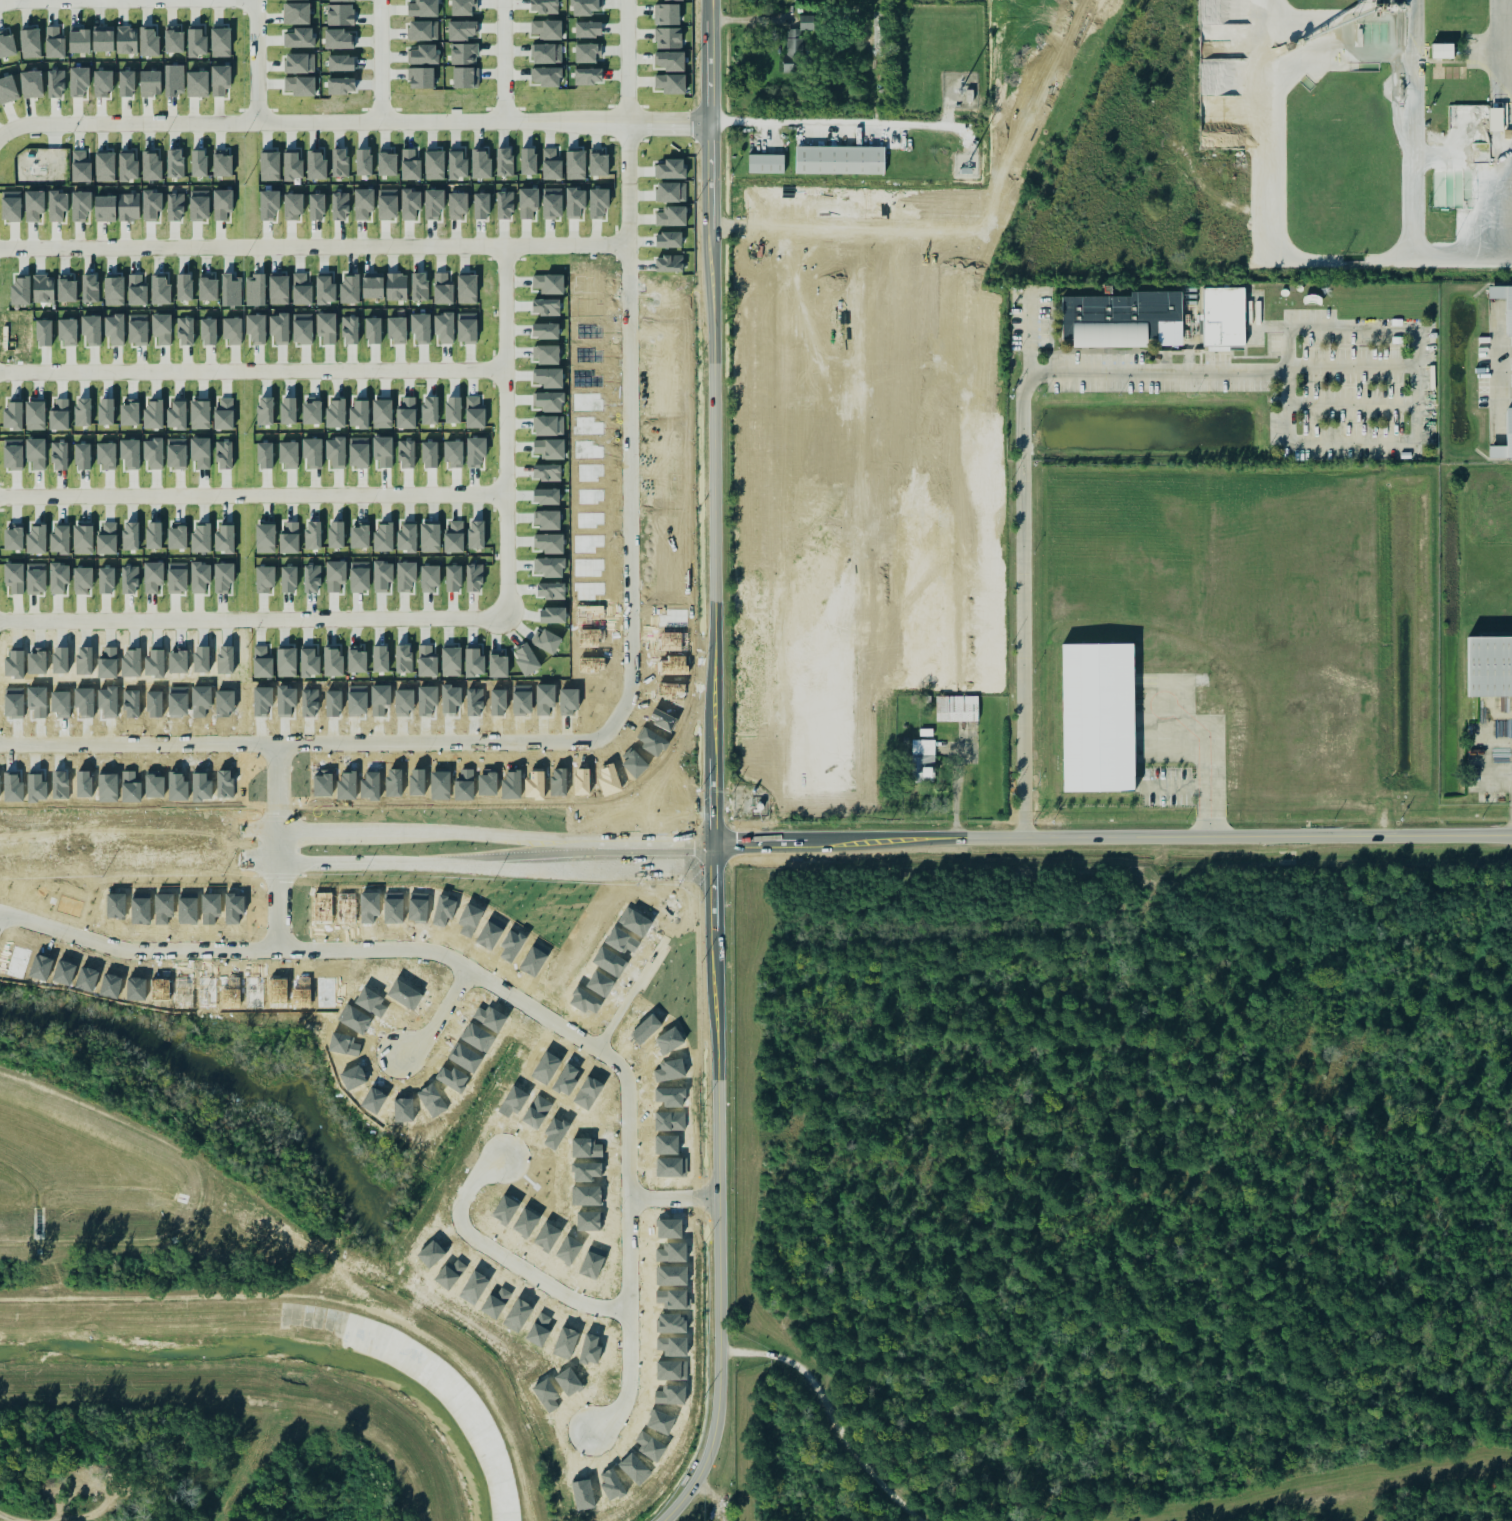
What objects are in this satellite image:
road: (66, 0)
building: (340, 0)
building: (668, 0)
building: (543, 6)
building: (461, 7)
building: (584, 7)
building: (422, 8)
building: (296, 13)
building: (666, 13)
building: (339, 14)
building: (546, 28)
building: (588, 28)
building: (461, 29)
building: (422, 30)
building: (300, 37)
building: (668, 37)
building: (102, 38)
building: (173, 38)
building: (338, 38)
building: (79, 39)
building: (126, 39)
building: (148, 40)
building: (195, 40)
building: (54, 41)
building: (220, 41)
building: (30, 42)
building: (7, 44)
building: (794, 44)
building: (1441, 50)
building: (546, 52)
building: (463, 53)
building: (585, 53)
building: (424, 54)
building: (669, 60)
building: (299, 62)
building: (340, 62)
road: (505, 62)
road: (256, 63)
road: (382, 63)
building: (587, 75)
building: (545, 76)
building: (420, 77)
building: (464, 77)
building: (173, 79)
building: (219, 79)
building: (78, 80)
building: (149, 82)
building: (31, 83)
building: (55, 83)
building: (102, 83)
building: (126, 83)
building: (196, 83)
building: (670, 83)
building: (299, 85)
building: (340, 85)
building: (7, 89)
building: (1495, 119)
road: (848, 122)
road: (484, 125)
road: (127, 126)
road: (1415, 129)
road: (1510, 129)
building: (839, 159)
building: (527, 160)
building: (504, 161)
building: (198, 162)
building: (339, 162)
building: (362, 162)
building: (386, 162)
building: (456, 162)
building: (174, 163)
building: (410, 163)
building: (480, 163)
building: (551, 163)
building: (765, 163)
building: (128, 164)
building: (151, 164)
building: (222, 164)
building: (315, 164)
building: (574, 164)
building: (597, 164)
building: (269, 165)
building: (292, 165)
building: (433, 165)
building: (80, 166)
building: (104, 166)
building: (671, 169)
building: (671, 191)
building: (574, 201)
building: (527, 202)
building: (551, 202)
building: (597, 202)
building: (221, 203)
building: (362, 203)
building: (386, 203)
building: (409, 203)
building: (151, 204)
building: (269, 204)
building: (433, 204)
building: (504, 204)
building: (10, 205)
building: (33, 205)
building: (57, 205)
building: (80, 205)
building: (198, 205)
building: (292, 205)
building: (339, 205)
building: (456, 205)
building: (481, 205)
building: (128, 206)
building: (174, 206)
building: (316, 206)
building: (104, 208)
building: (670, 216)
building: (668, 239)
road: (313, 248)
road: (1388, 258)
building: (668, 263)
building: (547, 283)
building: (372, 285)
building: (183, 286)
building: (207, 286)
building: (395, 286)
building: (419, 286)
building: (672, 286)
building: (66, 287)
building: (89, 287)
building: (442, 287)
building: (43, 288)
building: (136, 288)
building: (159, 288)
building: (301, 288)
building: (20, 289)
building: (113, 289)
building: (278, 289)
building: (324, 289)
building: (349, 289)
building: (466, 289)
building: (231, 290)
building: (254, 290)
building: (545, 306)
building: (1501, 307)
building: (672, 309)
building: (1126, 316)
building: (1227, 316)
building: (278, 327)
building: (302, 327)
building: (326, 327)
building: (420, 327)
building: (444, 327)
building: (466, 327)
building: (114, 328)
building: (161, 328)
building: (256, 328)
building: (396, 328)
building: (137, 329)
building: (349, 329)
building: (91, 330)
building: (185, 330)
building: (231, 330)
building: (372, 330)
building: (544, 330)
building: (67, 331)
building: (208, 331)
building: (23, 332)
building: (43, 332)
road: (1505, 351)
building: (545, 353)
road: (252, 371)
road: (1499, 371)
building: (822, 375)
building: (547, 377)
road: (1505, 392)
building: (548, 400)
road: (1351, 403)
building: (315, 408)
building: (431, 409)
building: (456, 409)
building: (266, 410)
building: (290, 410)
building: (408, 410)
building: (85, 411)
building: (109, 411)
building: (132, 411)
building: (339, 411)
building: (385, 411)
building: (156, 412)
building: (180, 412)
building: (363, 412)
building: (61, 413)
building: (226, 413)
building: (477, 413)
building: (38, 414)
building: (202, 414)
building: (15, 415)
building: (548, 425)
road: (506, 428)
road: (1416, 429)
building: (1501, 436)
building: (547, 448)
building: (479, 450)
building: (385, 451)
building: (315, 452)
building: (338, 452)
building: (360, 452)
building: (15, 453)
building: (156, 453)
building: (179, 453)
building: (204, 453)
building: (409, 453)
building: (132, 454)
building: (226, 454)
building: (432, 454)
building: (456, 454)
building: (39, 455)
building: (109, 455)
building: (268, 455)
building: (291, 455)
building: (62, 456)
building: (85, 456)
building: (546, 472)
road: (1020, 478)
road: (254, 495)
building: (545, 495)
building: (547, 520)
building: (479, 532)
building: (337, 533)
building: (315, 534)
building: (362, 534)
building: (130, 535)
building: (153, 535)
building: (386, 535)
building: (456, 535)
building: (13, 536)
building: (176, 536)
building: (224, 536)
building: (432, 536)
building: (200, 537)
building: (409, 537)
building: (35, 538)
building: (82, 538)
building: (106, 538)
building: (266, 538)
building: (292, 538)
building: (59, 539)
building: (549, 542)
building: (548, 566)
building: (385, 575)
building: (410, 575)
building: (339, 576)
building: (362, 576)
building: (179, 577)
building: (203, 577)
building: (227, 577)
building: (432, 577)
building: (15, 578)
building: (37, 578)
building: (156, 578)
building: (268, 578)
building: (291, 578)
building: (315, 578)
building: (456, 578)
building: (478, 578)
building: (63, 579)
building: (131, 579)
building: (85, 580)
building: (110, 580)
building: (550, 590)
building: (551, 614)
road: (250, 620)
building: (546, 640)
building: (403, 657)
building: (379, 658)
building: (180, 659)
building: (204, 659)
building: (227, 659)
building: (355, 659)
building: (526, 659)
building: (39, 660)
building: (63, 660)
building: (86, 660)
building: (332, 661)
building: (426, 661)
building: (450, 661)
building: (109, 662)
building: (134, 662)
building: (158, 662)
building: (263, 662)
building: (286, 662)
building: (308, 662)
building: (473, 662)
building: (17, 664)
building: (497, 666)
building: (1490, 669)
road: (629, 672)
building: (830, 693)
building: (548, 698)
building: (383, 699)
building: (453, 699)
building: (39, 700)
building: (359, 700)
building: (525, 700)
building: (571, 700)
building: (87, 701)
building: (180, 701)
building: (203, 701)
building: (432, 701)
building: (500, 701)
building: (227, 702)
building: (266, 702)
building: (290, 702)
building: (407, 702)
building: (477, 702)
building: (16, 703)
building: (155, 703)
building: (336, 703)
building: (63, 704)
building: (110, 704)
building: (133, 704)
building: (312, 704)
building: (956, 708)
building: (1102, 717)
road: (1205, 759)
building: (922, 760)
road: (719, 768)
road: (1178, 786)
road: (953, 792)
road: (275, 803)
road: (1115, 838)
road: (561, 846)
road: (641, 846)
road: (277, 906)
road: (136, 950)
road: (470, 971)
road: (439, 1019)
road: (629, 1141)
road: (675, 1200)
road: (505, 1260)
building: (495, 1302)
building: (517, 1315)
road: (629, 1323)
building: (539, 1329)
building: (565, 1342)
building: (589, 1349)
building: (567, 1381)
building: (546, 1394)
building: (670, 1394)
road: (830, 1414)
building: (660, 1421)
building: (650, 1445)
building: (634, 1468)
building: (612, 1485)
building: (582, 1494)

